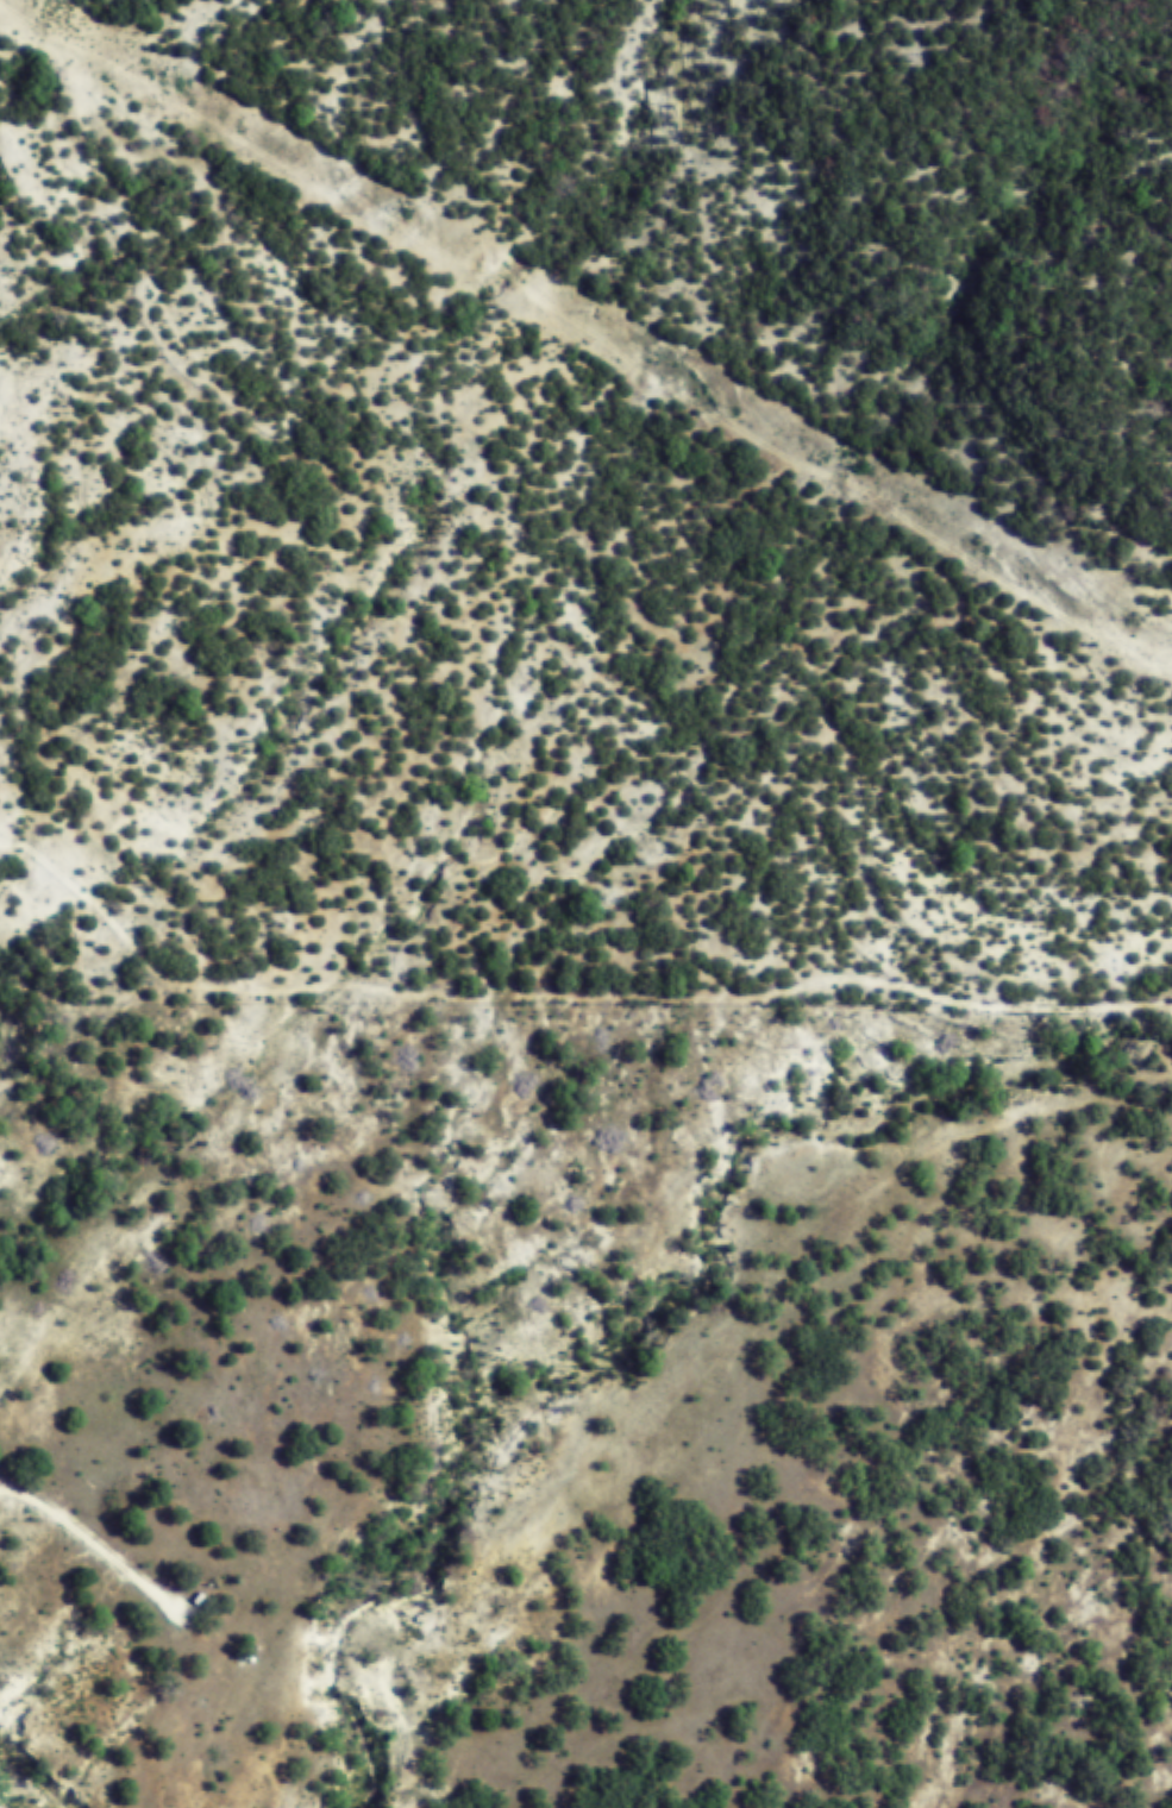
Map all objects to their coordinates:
river: (26, 1788)

